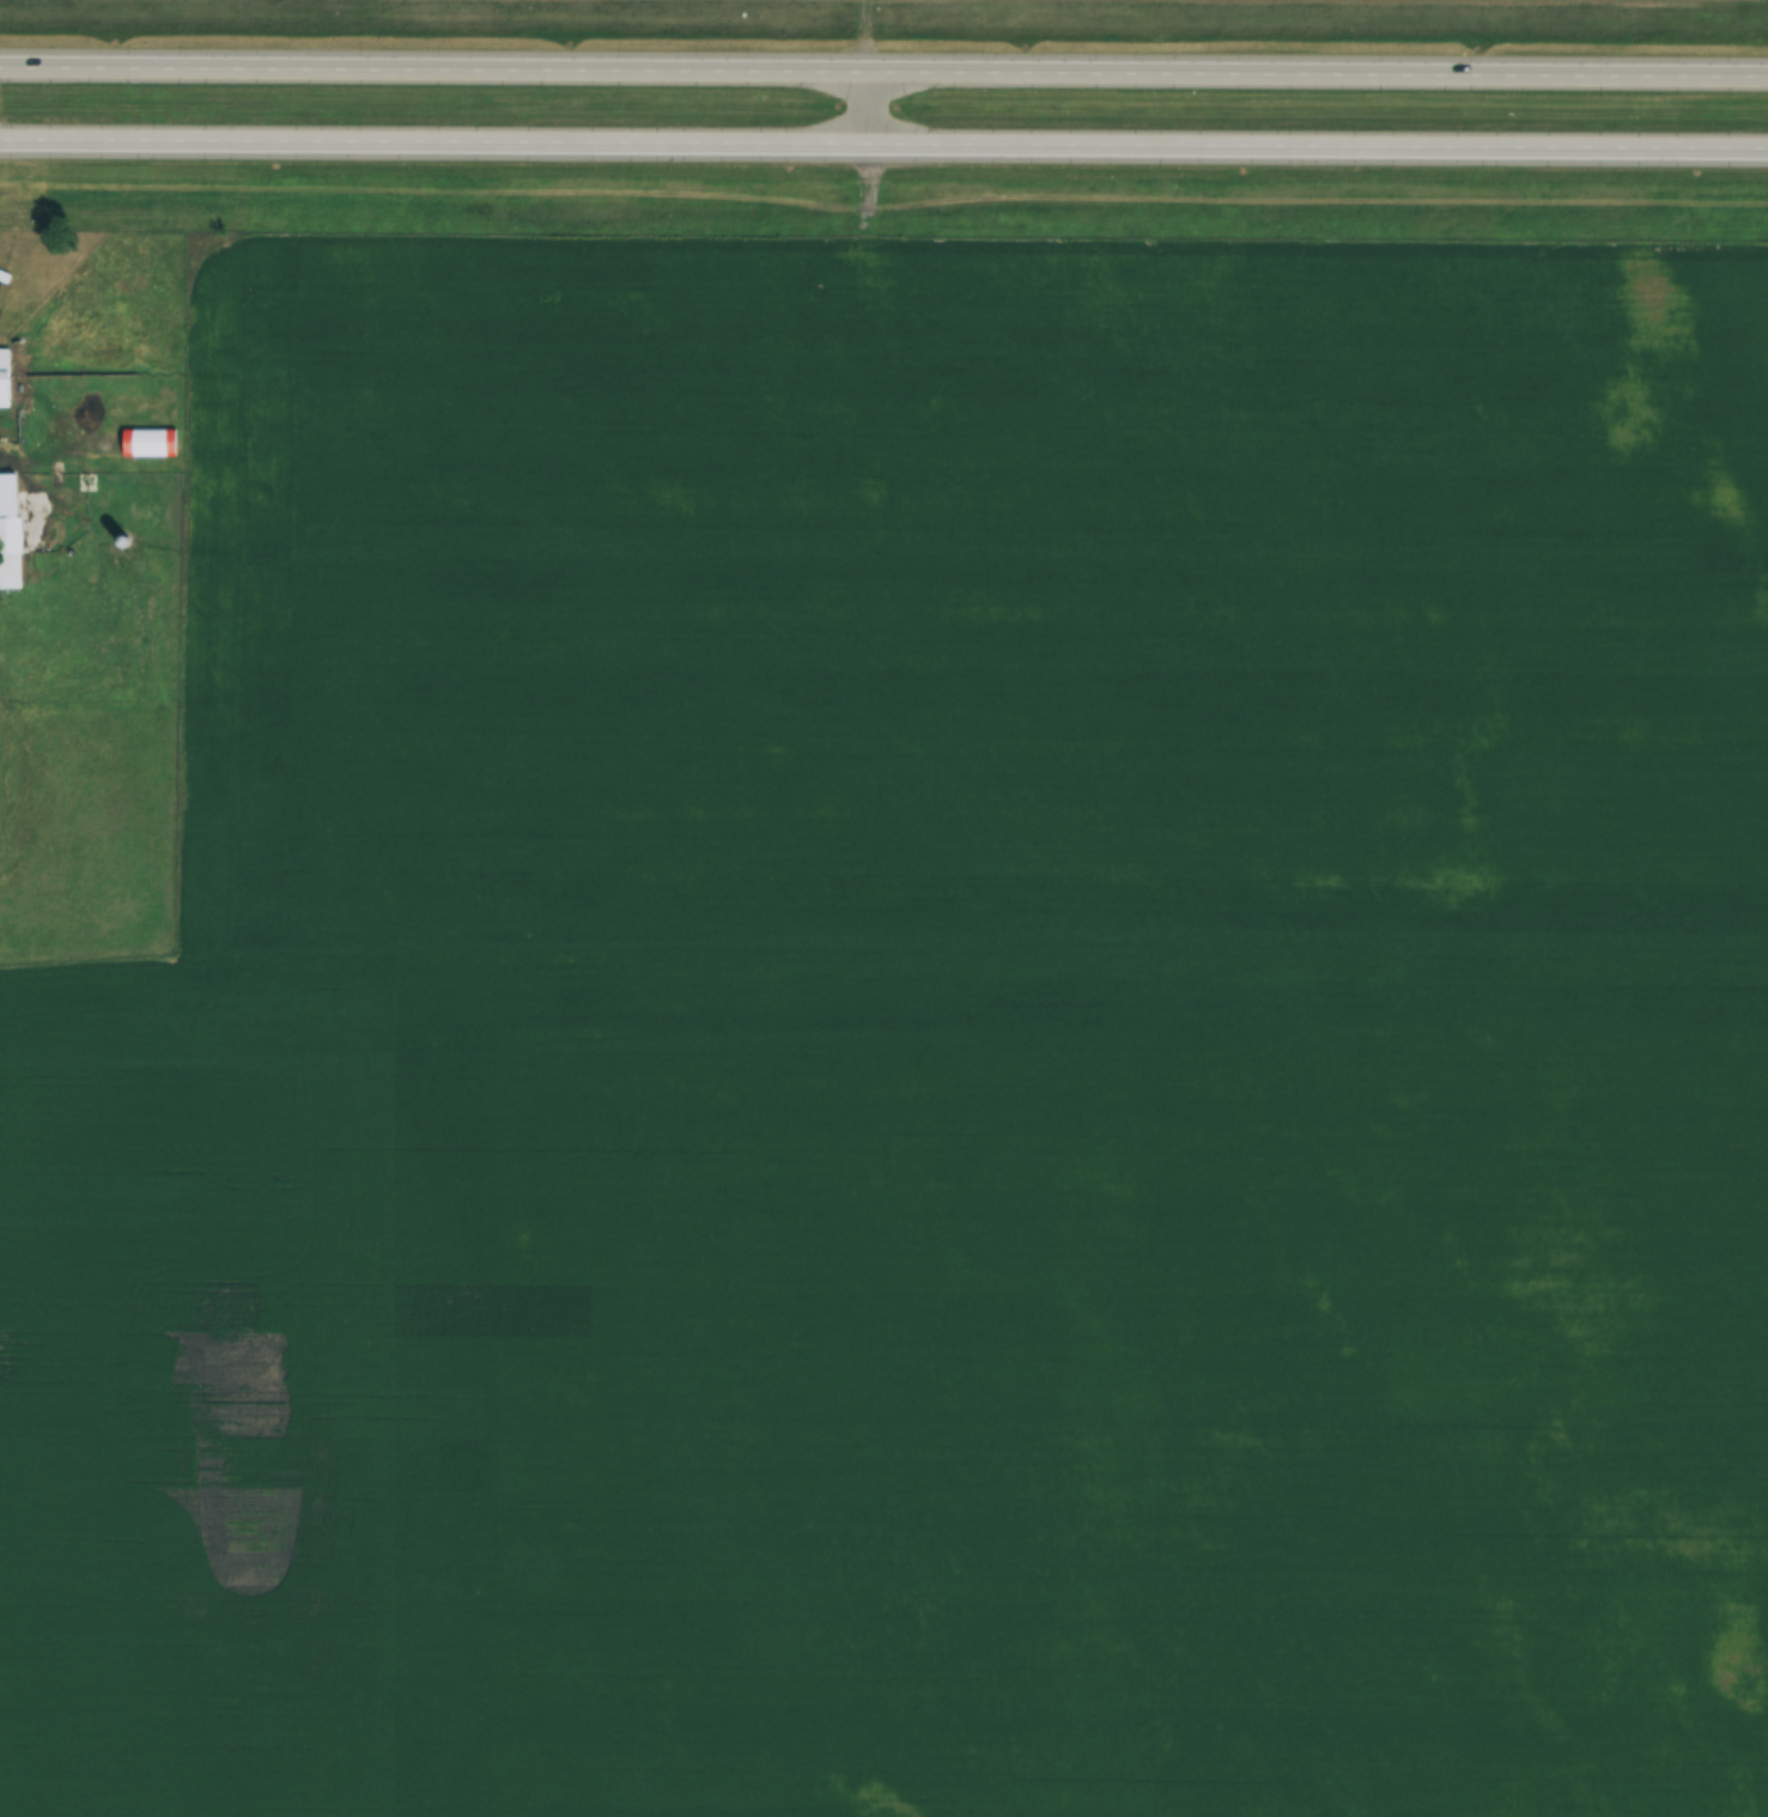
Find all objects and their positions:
road: (868, 36)
road: (883, 72)
road: (868, 108)
road: (883, 145)
road: (867, 188)
building: (6, 377)
building: (152, 443)
building: (10, 531)
crop: (922, 1046)

